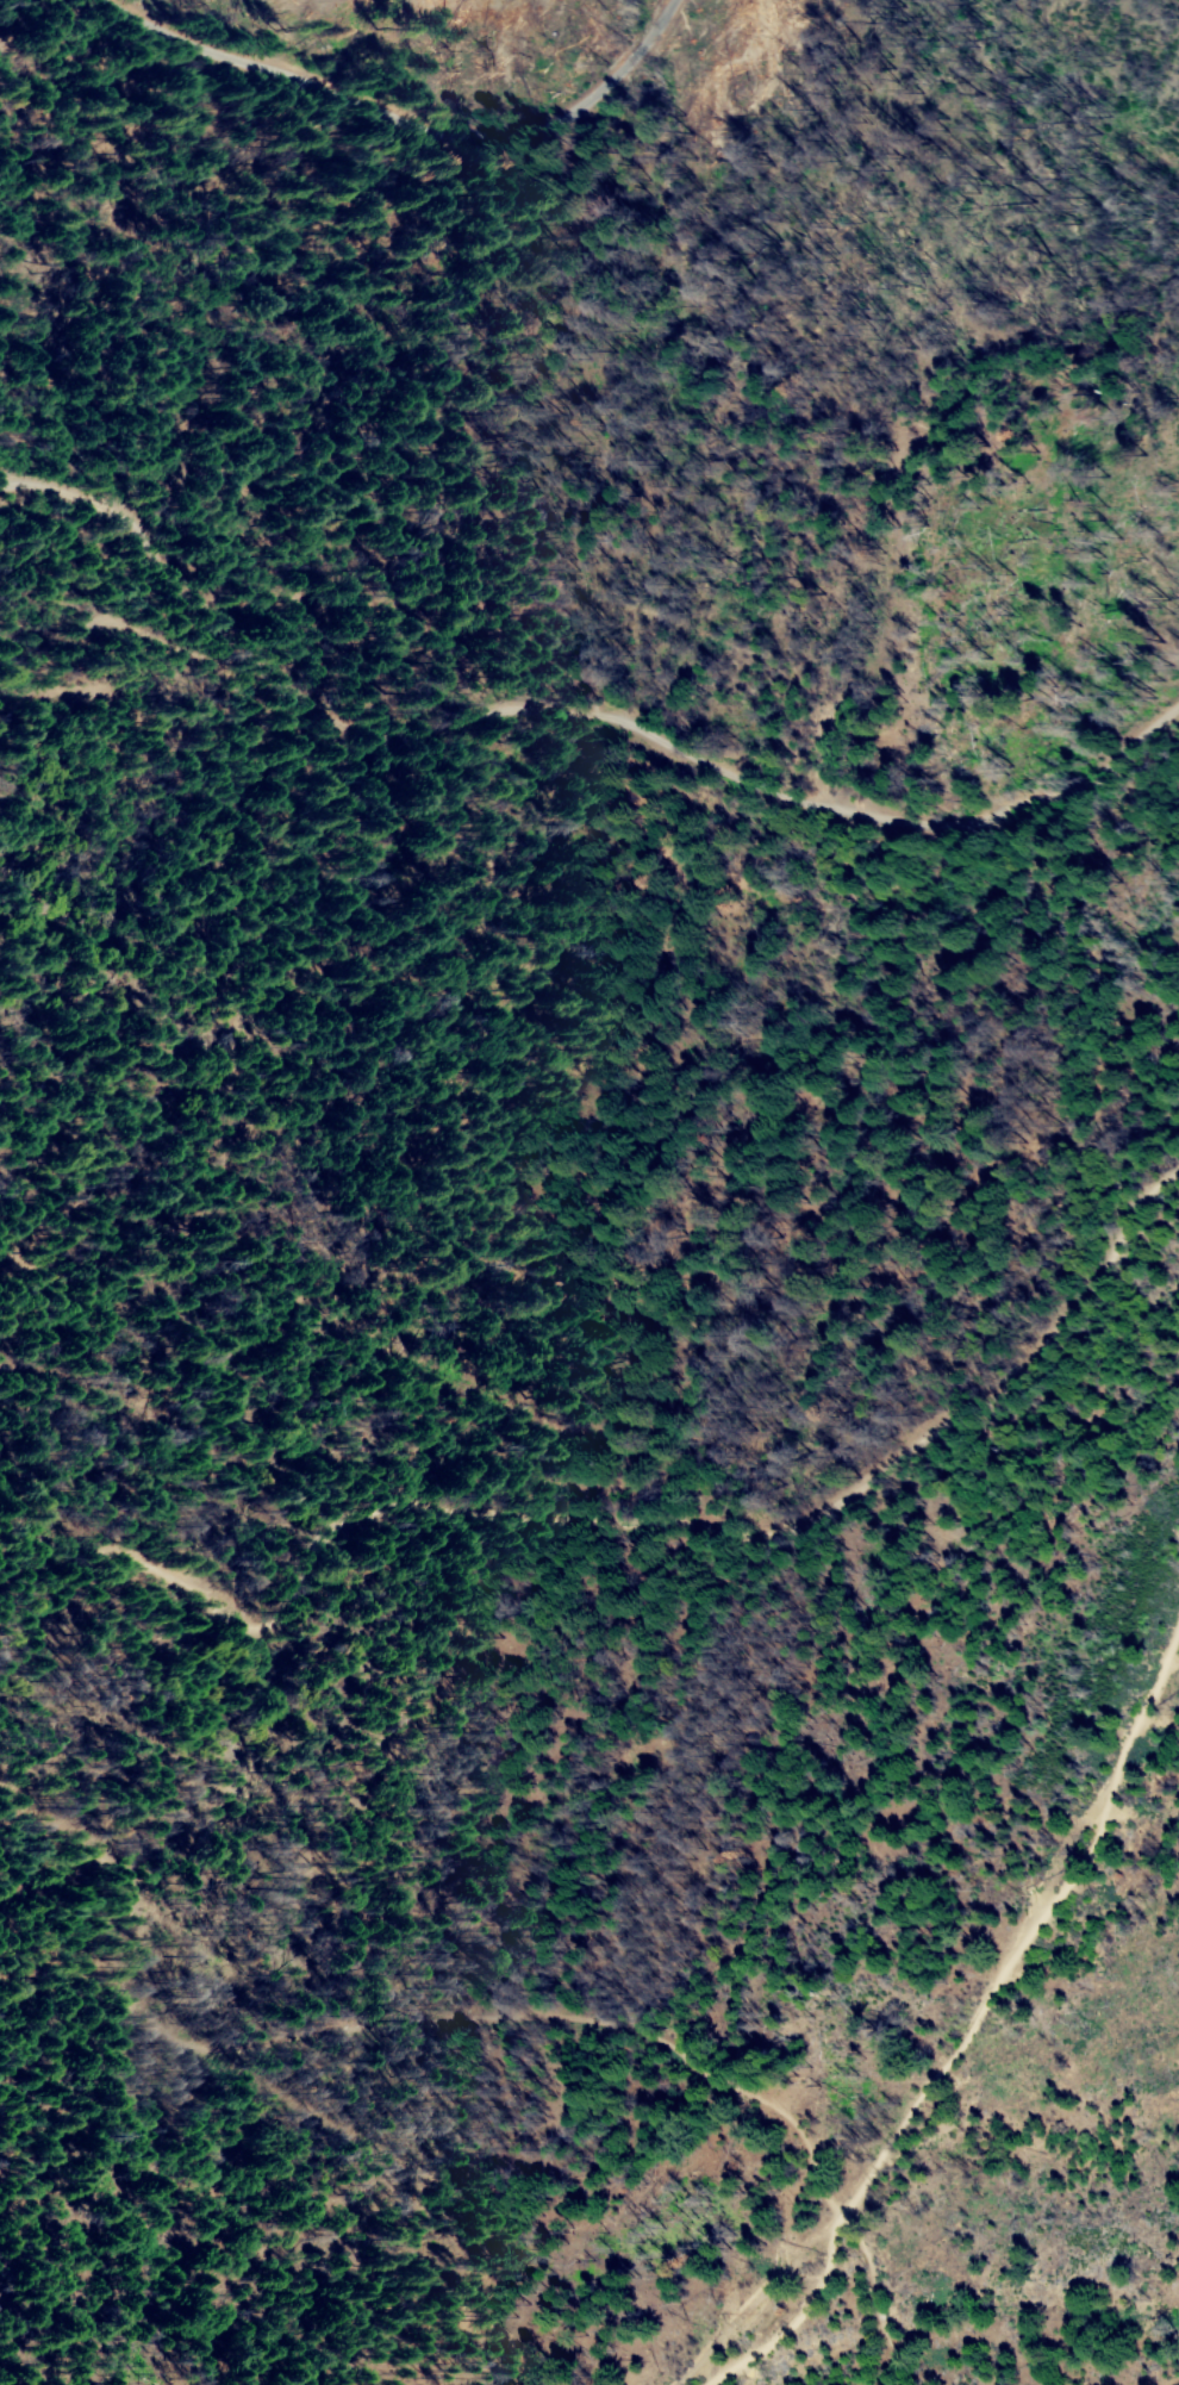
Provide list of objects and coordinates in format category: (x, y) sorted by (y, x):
road: (407, 120)
road: (579, 716)
road: (632, 1536)
road: (480, 2020)

